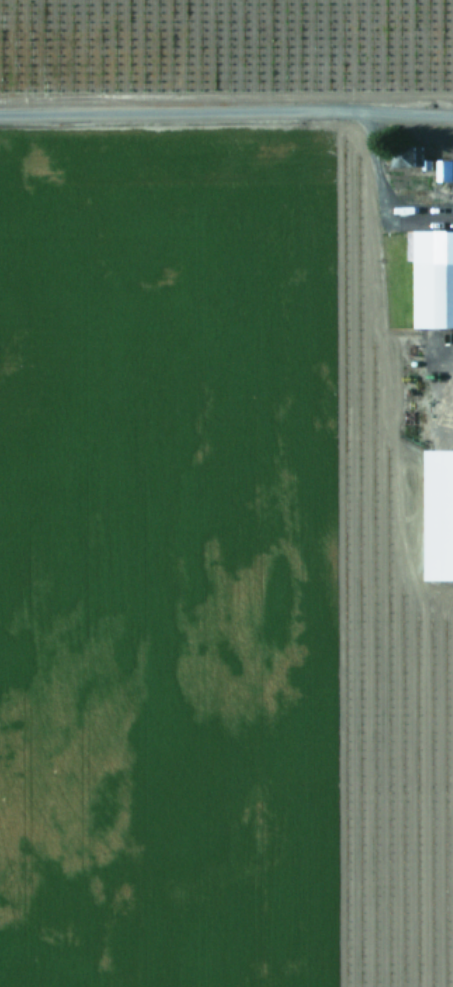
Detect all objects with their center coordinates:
road: (229, 125)
building: (405, 156)
building: (444, 170)
building: (433, 278)
crop: (226, 493)

